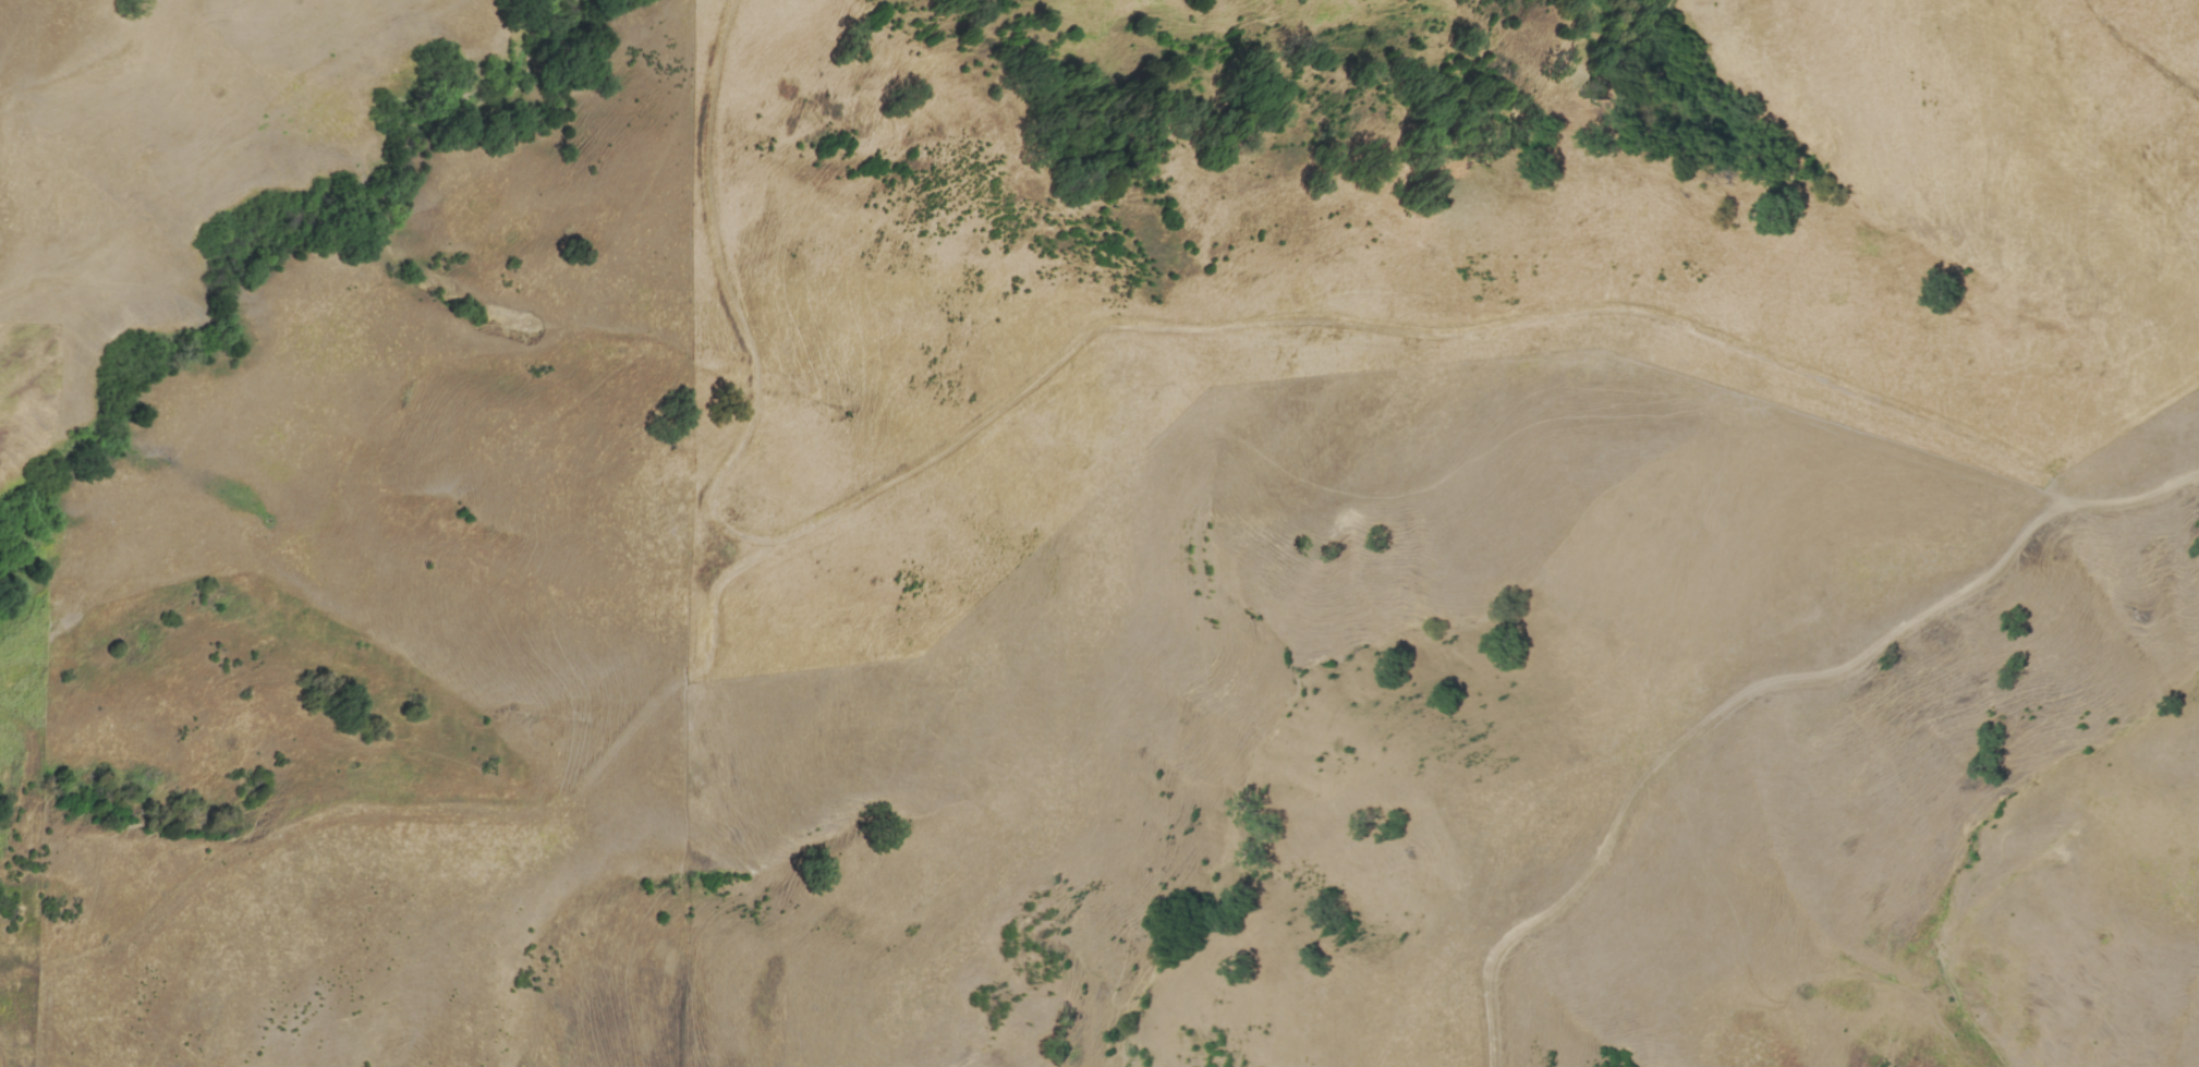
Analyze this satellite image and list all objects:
road: (2139, 50)
road: (1178, 329)
road: (722, 602)
road: (1710, 717)
road: (485, 813)

